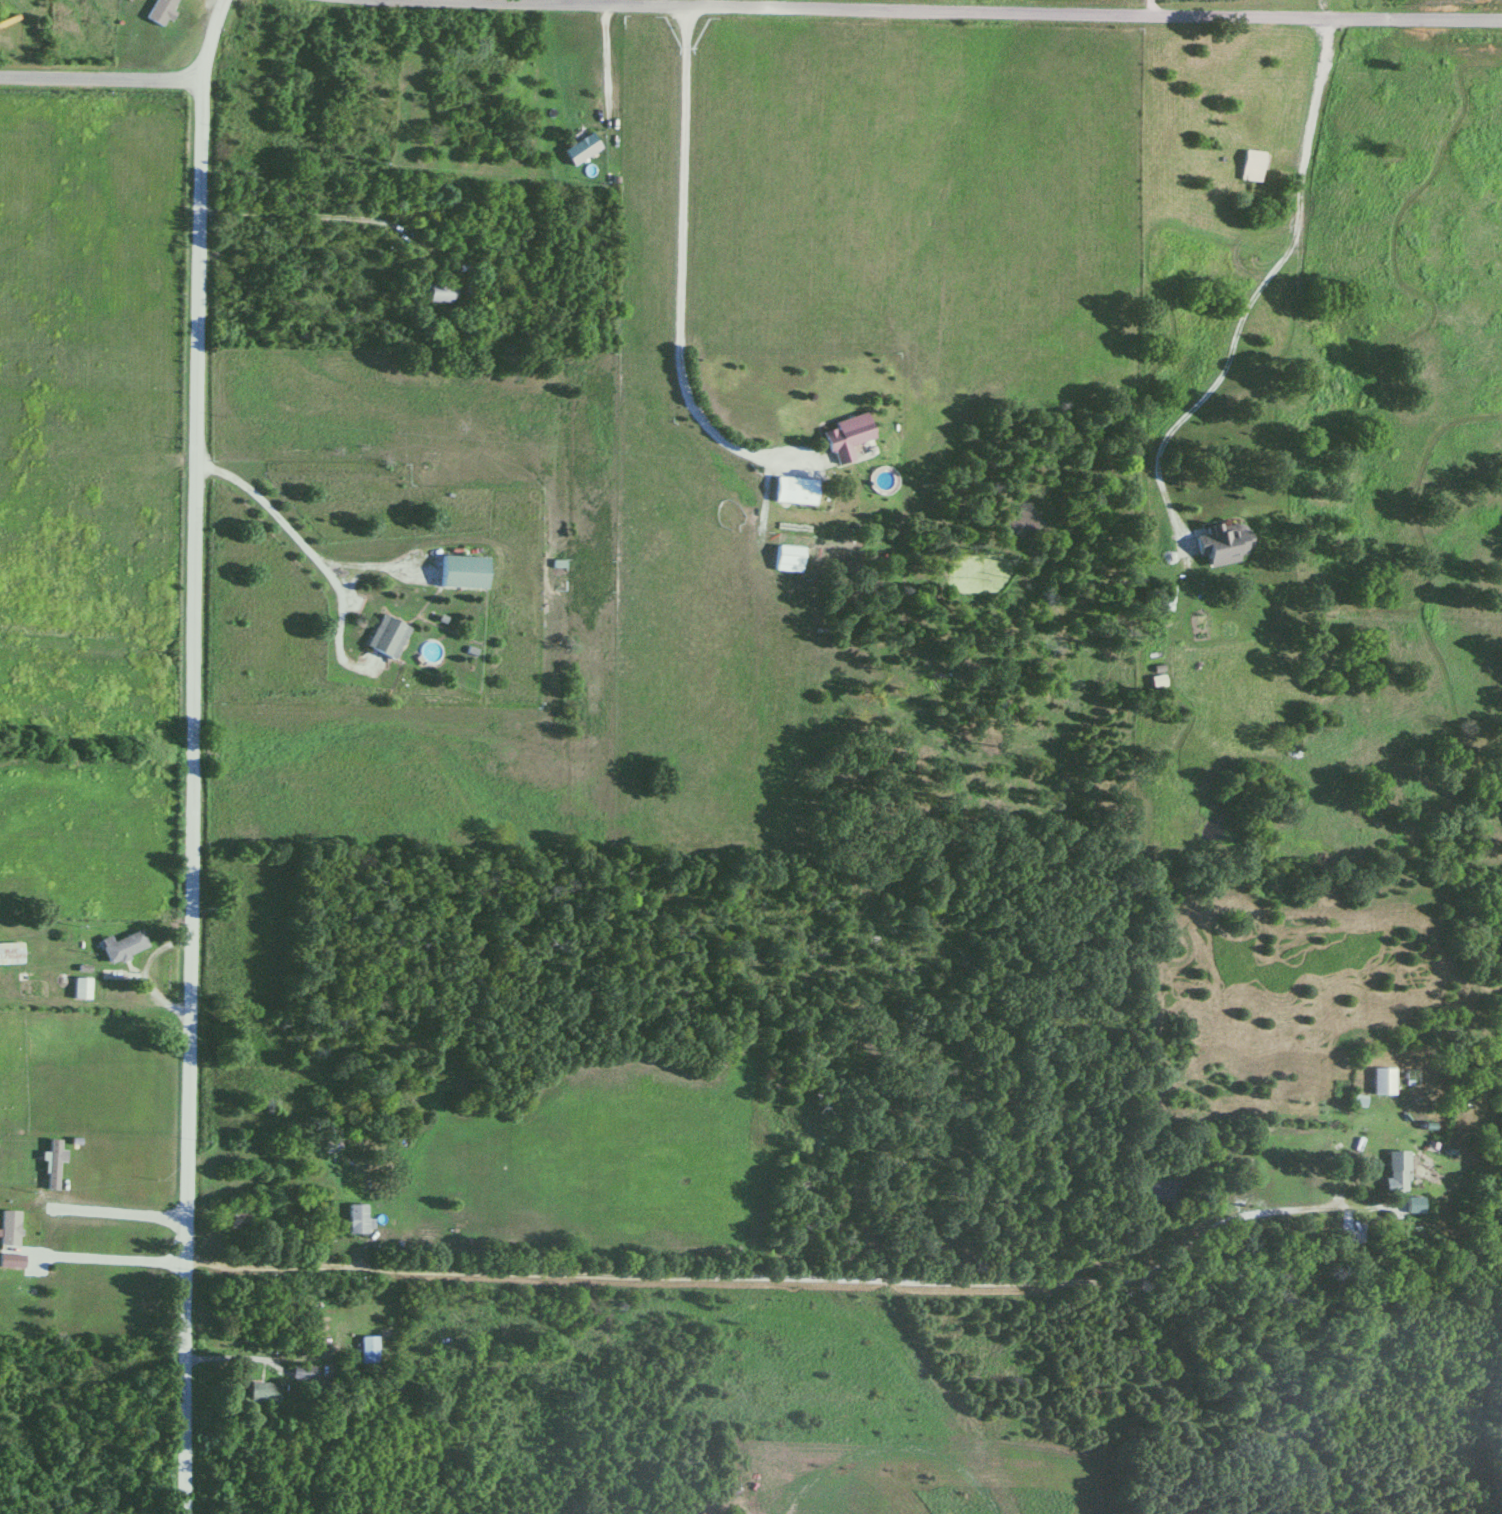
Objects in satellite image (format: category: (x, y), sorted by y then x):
road: (664, 4)
road: (1147, 9)
building: (161, 12)
road: (917, 13)
road: (341, 50)
road: (100, 85)
building: (582, 150)
building: (1252, 167)
road: (317, 218)
road: (679, 282)
building: (440, 294)
road: (1248, 304)
building: (849, 438)
road: (295, 471)
building: (797, 491)
building: (1224, 544)
building: (466, 574)
road: (323, 575)
building: (389, 637)
road: (185, 755)
building: (124, 947)
building: (11, 954)
building: (83, 989)
building: (1382, 1082)
building: (331, 1147)
building: (1396, 1172)
building: (157, 1175)
road: (115, 1218)
building: (357, 1220)
road: (107, 1265)
road: (776, 1278)
road: (347, 1318)
building: (367, 1350)
building: (301, 1373)
building: (263, 1393)

